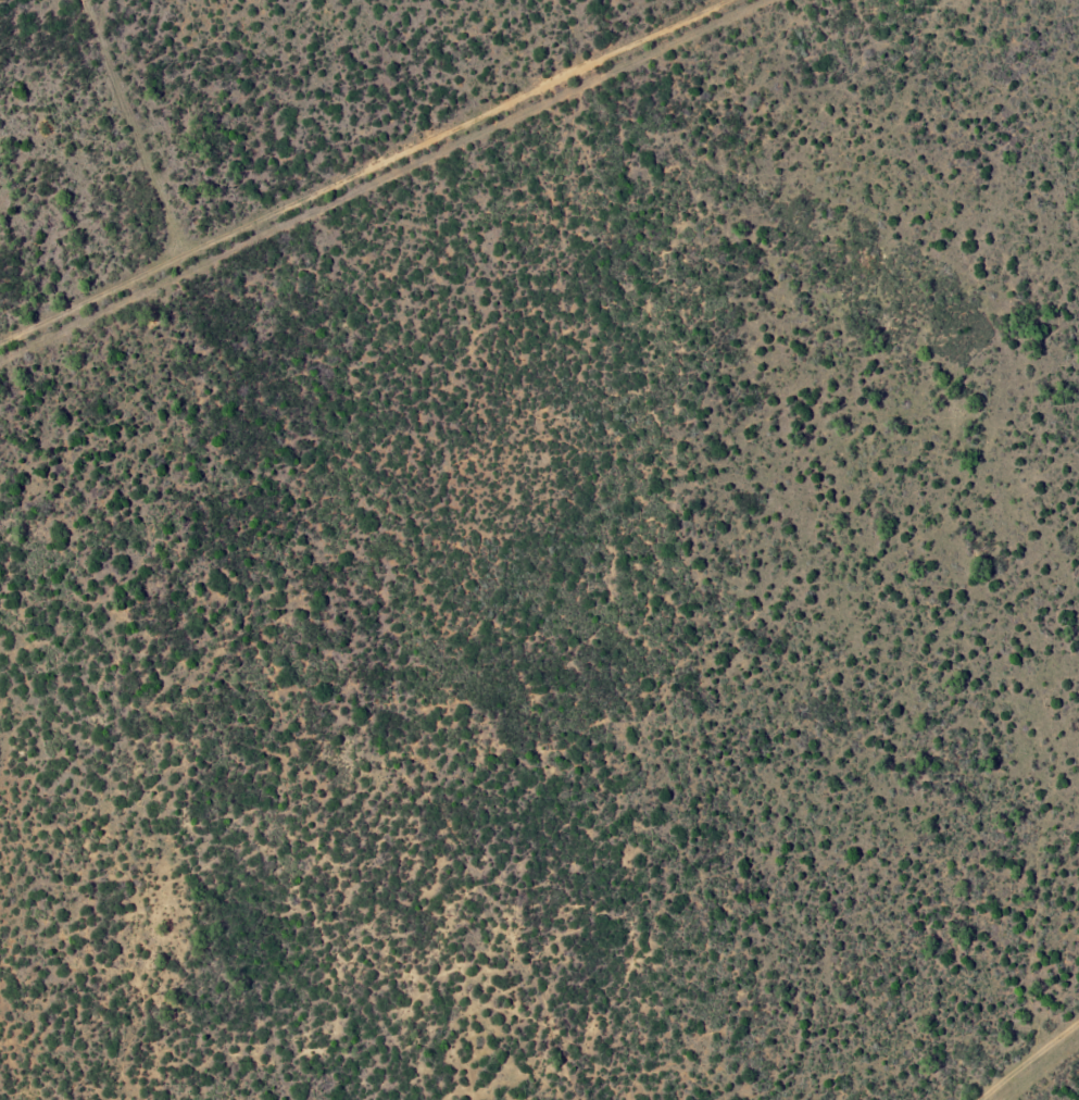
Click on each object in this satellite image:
road: (404, 176)

